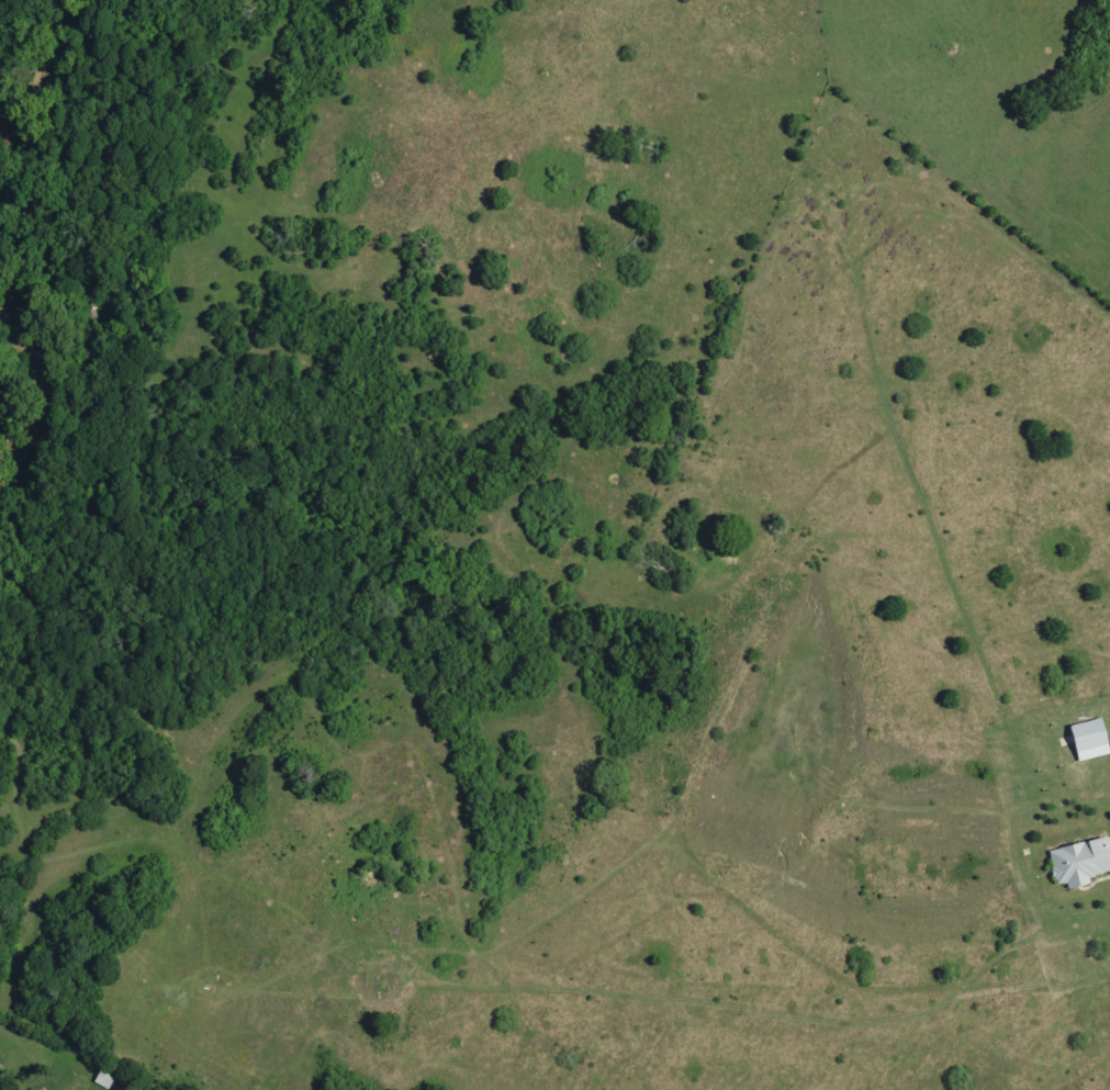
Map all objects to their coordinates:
building: (1091, 742)
building: (1081, 865)
building: (106, 1080)

